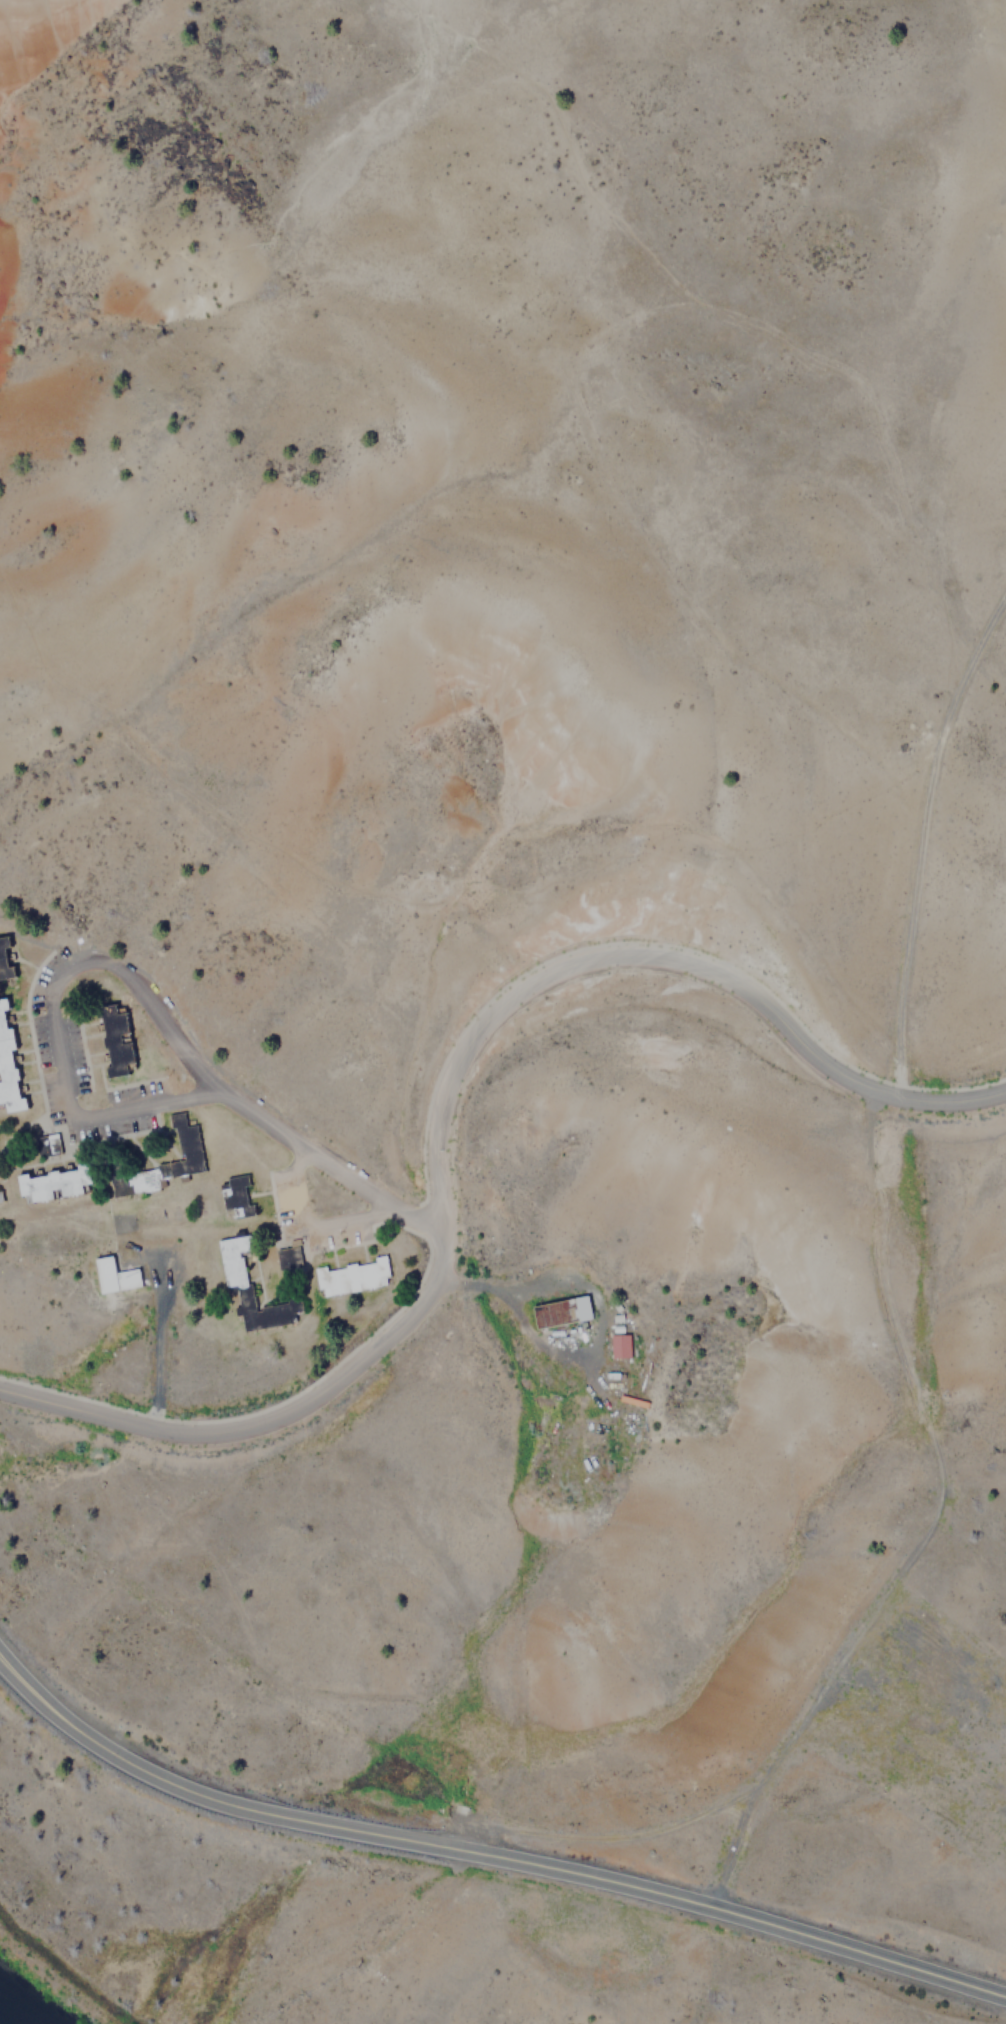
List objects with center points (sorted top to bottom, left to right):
road: (414, 9)
road: (737, 319)
road: (922, 838)
building: (5, 961)
road: (148, 997)
building: (117, 1043)
building: (8, 1067)
road: (443, 1100)
building: (188, 1144)
building: (48, 1146)
building: (57, 1185)
building: (1, 1197)
building: (236, 1198)
building: (288, 1256)
building: (236, 1271)
building: (118, 1277)
building: (354, 1278)
building: (562, 1312)
building: (620, 1346)
road: (488, 1854)
river: (12, 2014)

